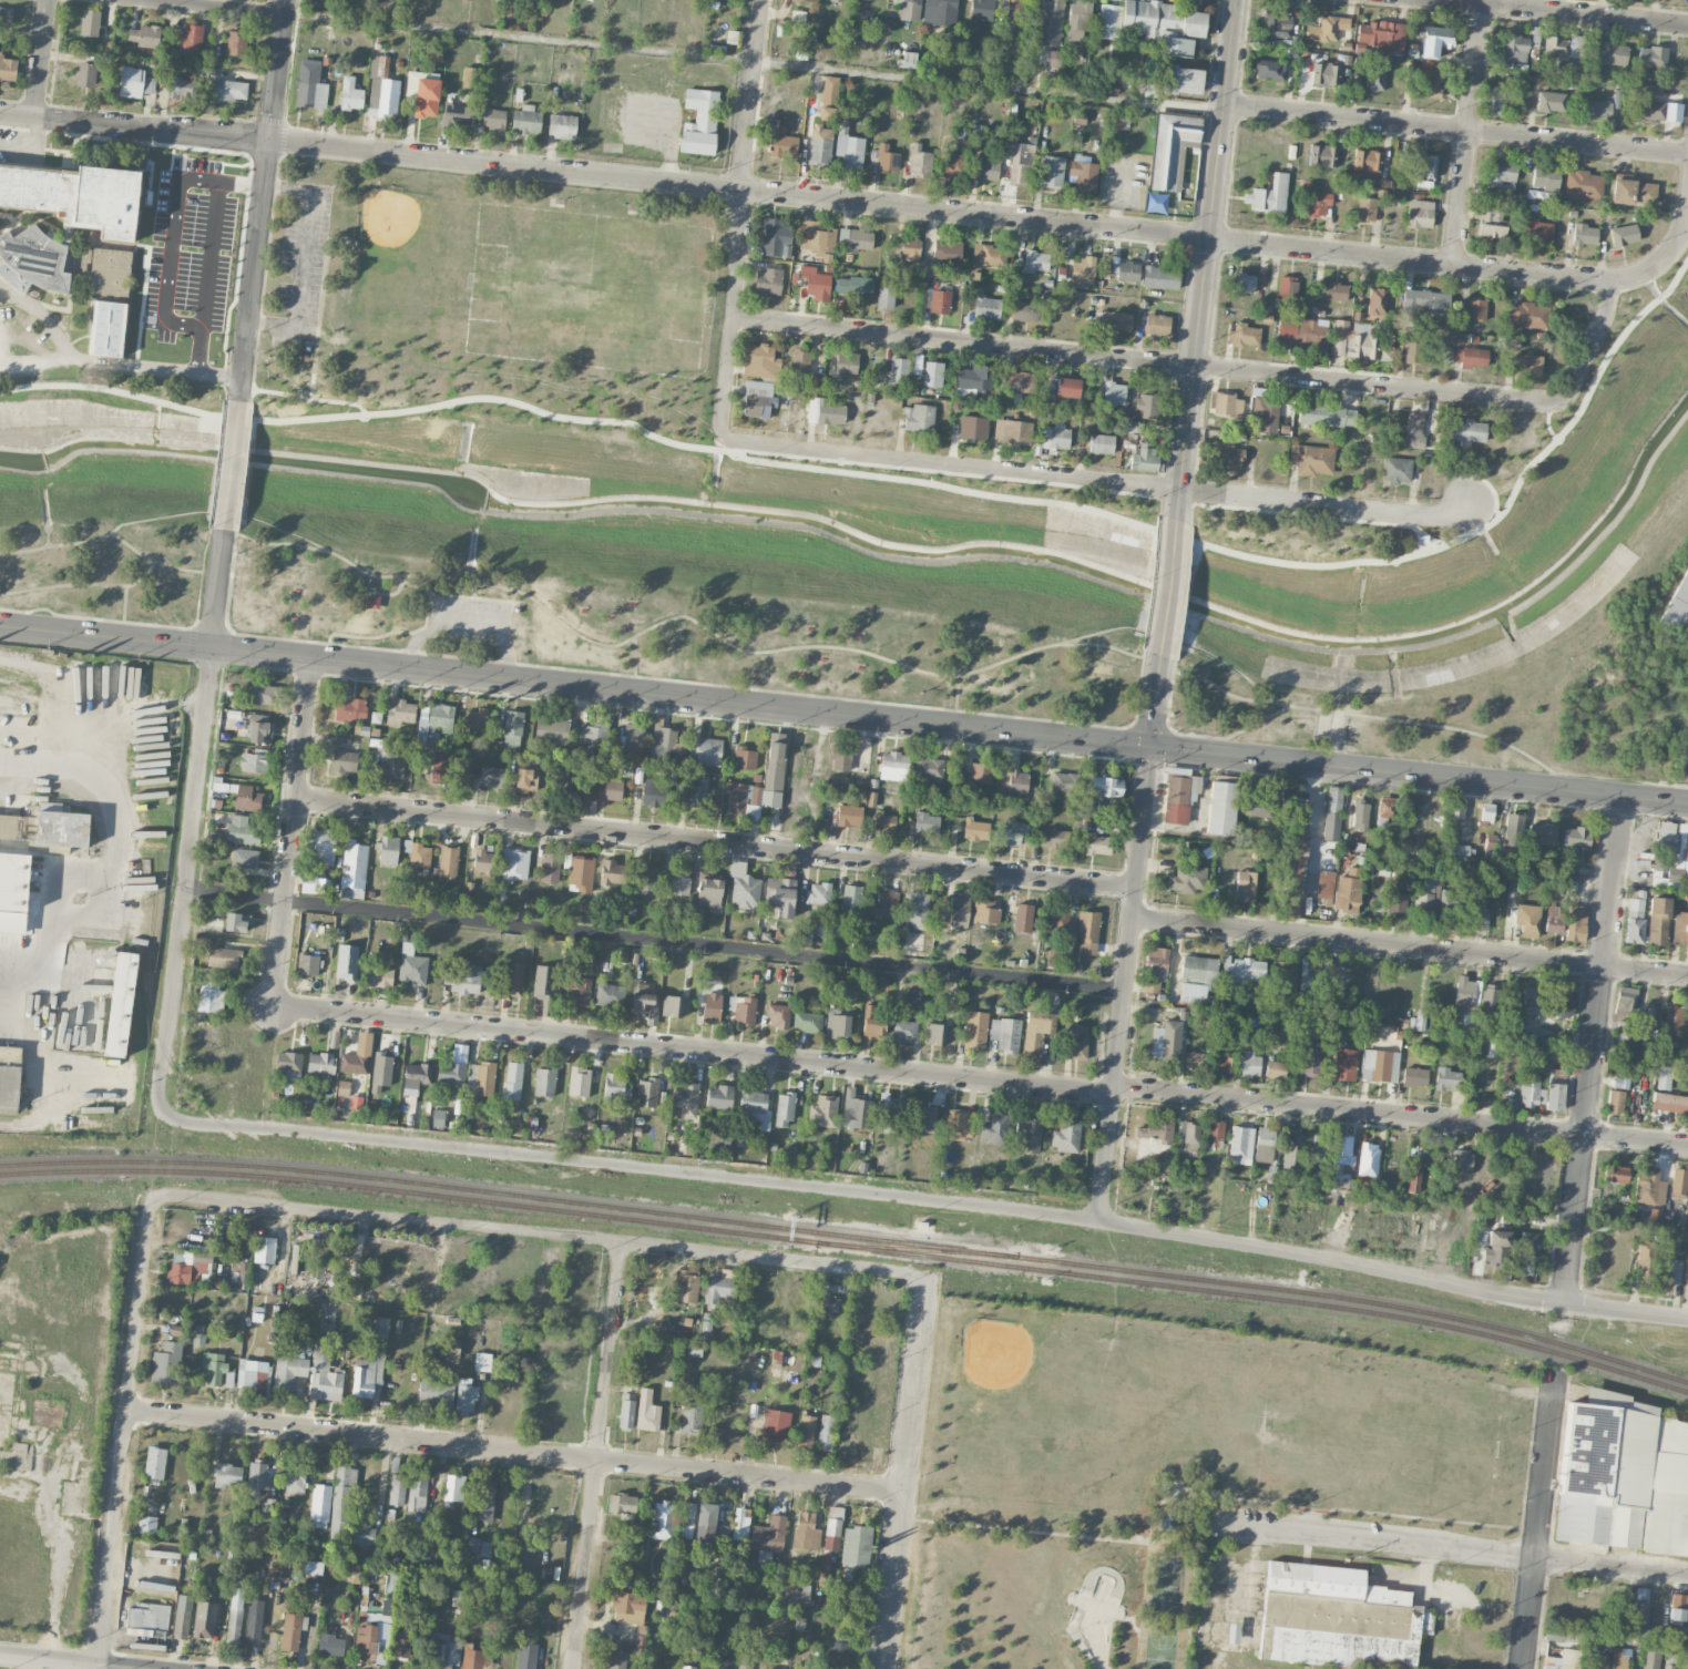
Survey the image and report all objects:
building: (808, 0)
building: (847, 0)
road: (208, 8)
building: (907, 9)
building: (981, 11)
building: (940, 12)
road: (1575, 12)
building: (6, 14)
building: (1077, 21)
building: (90, 22)
building: (1051, 22)
building: (1276, 22)
building: (1193, 23)
building: (1145, 24)
building: (1327, 29)
building: (193, 34)
building: (1381, 34)
building: (144, 35)
building: (1435, 41)
building: (236, 43)
building: (1564, 45)
building: (1514, 48)
building: (1609, 53)
building: (1653, 57)
building: (1053, 59)
road: (41, 60)
building: (909, 60)
building: (1568, 61)
road: (753, 62)
building: (8, 68)
building: (1269, 70)
building: (1324, 73)
building: (85, 74)
building: (470, 78)
building: (1375, 78)
building: (1181, 80)
building: (134, 82)
building: (1431, 83)
building: (310, 84)
building: (182, 86)
building: (226, 89)
building: (381, 89)
building: (1648, 89)
building: (350, 94)
road: (747, 95)
building: (427, 98)
building: (1617, 100)
building: (1491, 101)
building: (1552, 101)
building: (828, 102)
building: (1596, 109)
building: (1649, 109)
building: (457, 114)
building: (493, 119)
building: (525, 120)
building: (699, 122)
building: (562, 126)
road: (1454, 127)
road: (1467, 133)
building: (781, 144)
building: (820, 145)
road: (30, 147)
building: (849, 147)
building: (1172, 149)
building: (1322, 155)
building: (883, 160)
building: (919, 161)
building: (1367, 161)
building: (950, 165)
building: (1422, 165)
building: (1021, 167)
building: (988, 170)
building: (1052, 172)
building: (1501, 172)
building: (1084, 175)
building: (1546, 176)
building: (1583, 184)
building: (1633, 192)
building: (75, 195)
building: (1268, 195)
road: (804, 197)
road: (263, 202)
building: (1318, 203)
building: (1367, 209)
building: (1420, 214)
building: (1491, 223)
building: (1538, 231)
building: (1584, 234)
building: (1624, 235)
building: (776, 238)
building: (857, 239)
building: (816, 240)
building: (908, 248)
building: (948, 252)
road: (1666, 254)
building: (988, 256)
parking lot: (301, 258)
road: (301, 258)
building: (33, 260)
building: (1035, 260)
road: (1204, 260)
park: (427, 268)
building: (1083, 270)
building: (110, 272)
building: (1126, 272)
building: (1160, 277)
building: (768, 280)
building: (816, 283)
building: (1241, 284)
building: (855, 286)
park: (589, 288)
building: (1287, 288)
building: (1333, 290)
building: (886, 296)
park: (488, 301)
building: (940, 301)
building: (1377, 301)
building: (1424, 301)
building: (986, 307)
building: (1475, 309)
building: (1022, 310)
road: (732, 315)
building: (1527, 315)
building: (1113, 320)
building: (1157, 325)
building: (108, 328)
building: (1301, 332)
building: (1242, 335)
building: (1353, 340)
building: (1510, 344)
road: (315, 351)
building: (1412, 352)
building: (1385, 355)
building: (1470, 355)
road: (108, 359)
building: (760, 361)
building: (846, 364)
building: (800, 365)
building: (1526, 365)
road: (1210, 366)
building: (899, 368)
building: (932, 373)
building: (974, 378)
building: (1019, 381)
building: (1067, 387)
building: (1113, 392)
road: (304, 396)
building: (1019, 397)
building: (758, 399)
building: (1226, 405)
building: (1147, 406)
building: (825, 411)
building: (1265, 413)
building: (1327, 414)
building: (918, 419)
road: (1547, 422)
building: (973, 427)
building: (1134, 427)
building: (1413, 429)
building: (1011, 431)
building: (1469, 431)
building: (1055, 438)
building: (1102, 443)
building: (1225, 453)
building: (1146, 458)
building: (1311, 459)
road: (950, 464)
road: (232, 465)
building: (1397, 470)
road: (910, 482)
road: (1495, 495)
road: (1326, 504)
road: (1418, 533)
park: (888, 564)
road: (1167, 588)
building: (1679, 605)
road: (464, 620)
road: (106, 636)
building: (262, 694)
road: (193, 702)
road: (1154, 702)
building: (350, 709)
building: (399, 711)
building: (376, 717)
building: (474, 720)
road: (119, 721)
building: (433, 724)
road: (950, 726)
building: (259, 729)
building: (512, 729)
building: (552, 730)
building: (593, 733)
building: (633, 737)
building: (346, 743)
building: (662, 745)
traffic signals: (1149, 748)
building: (705, 750)
building: (775, 757)
building: (840, 757)
building: (745, 758)
building: (344, 760)
building: (255, 761)
building: (389, 764)
building: (893, 766)
building: (441, 767)
building: (929, 767)
building: (981, 772)
building: (492, 776)
building: (526, 779)
building: (564, 779)
building: (1017, 782)
building: (1064, 782)
building: (1106, 786)
building: (605, 789)
building: (653, 792)
building: (697, 792)
building: (246, 797)
building: (1176, 798)
building: (1334, 798)
building: (871, 799)
road: (194, 807)
building: (1258, 807)
building: (1385, 807)
building: (1221, 808)
building: (1455, 810)
building: (1486, 811)
building: (1359, 813)
building: (849, 816)
building: (884, 822)
building: (927, 822)
building: (7, 825)
building: (1300, 826)
building: (1331, 826)
building: (62, 828)
building: (976, 829)
building: (1513, 829)
building: (242, 830)
road: (289, 830)
building: (1014, 832)
building: (1542, 833)
building: (1576, 837)
building: (1055, 838)
building: (1490, 842)
building: (1098, 843)
road: (714, 844)
building: (324, 847)
building: (1674, 848)
building: (388, 850)
building: (1459, 853)
building: (419, 856)
building: (244, 858)
road: (108, 860)
building: (483, 860)
building: (448, 862)
building: (514, 864)
building: (550, 868)
building: (354, 869)
building: (612, 872)
building: (580, 873)
building: (1292, 878)
building: (646, 879)
building: (1187, 879)
building: (679, 881)
building: (1324, 884)
building: (323, 885)
building: (743, 885)
building: (1245, 885)
building: (1512, 887)
building: (13, 889)
building: (1348, 890)
building: (709, 893)
building: (818, 893)
building: (780, 895)
building: (851, 897)
building: (1424, 897)
building: (883, 902)
building: (1397, 902)
building: (1447, 907)
building: (914, 909)
building: (958, 910)
building: (985, 912)
building: (1477, 917)
building: (1023, 918)
building: (1527, 918)
building: (1553, 919)
building: (1634, 920)
building: (1057, 921)
building: (1658, 921)
building: (236, 922)
building: (1576, 923)
building: (1680, 928)
building: (1087, 933)
building: (206, 942)
road: (653, 942)
road: (1409, 944)
building: (222, 958)
building: (1052, 960)
building: (346, 962)
railway: (147, 963)
building: (307, 964)
building: (412, 965)
building: (1155, 967)
building: (1244, 970)
building: (1310, 971)
building: (379, 975)
building: (1341, 976)
building: (1286, 977)
building: (1197, 979)
building: (464, 980)
building: (512, 980)
building: (543, 983)
road: (1122, 984)
building: (576, 991)
building: (610, 995)
building: (642, 996)
building: (1488, 997)
building: (1625, 999)
building: (209, 1000)
building: (121, 1004)
building: (675, 1005)
building: (712, 1006)
building: (1465, 1006)
building: (743, 1010)
building: (1565, 1010)
building: (778, 1016)
building: (1674, 1016)
building: (1416, 1021)
building: (1687, 1021)
building: (807, 1022)
building: (872, 1023)
building: (838, 1025)
building: (1624, 1028)
building: (975, 1030)
building: (903, 1031)
building: (1036, 1031)
building: (1646, 1031)
building: (939, 1034)
building: (1005, 1034)
building: (1167, 1041)
building: (1076, 1042)
road: (1589, 1048)
building: (1492, 1049)
building: (1547, 1055)
building: (358, 1056)
building: (1196, 1061)
building: (1311, 1062)
building: (320, 1063)
building: (289, 1064)
building: (1226, 1064)
building: (1250, 1064)
building: (1344, 1064)
building: (1380, 1065)
building: (1275, 1068)
building: (381, 1072)
building: (451, 1073)
building: (9, 1076)
building: (1414, 1076)
building: (417, 1077)
building: (480, 1077)
building: (1446, 1078)
building: (1664, 1078)
road: (980, 1079)
building: (512, 1081)
building: (579, 1081)
building: (544, 1082)
building: (342, 1087)
building: (615, 1087)
building: (646, 1092)
building: (1532, 1092)
building: (1555, 1096)
building: (719, 1097)
building: (686, 1098)
building: (1615, 1102)
building: (1669, 1103)
building: (754, 1107)
building: (96, 1108)
building: (785, 1109)
building: (855, 1109)
building: (925, 1110)
building: (823, 1112)
building: (889, 1114)
building: (438, 1117)
railway: (69, 1122)
building: (958, 1125)
railway: (51, 1128)
building: (994, 1129)
building: (1156, 1130)
building: (1215, 1134)
building: (1027, 1135)
building: (1189, 1135)
building: (1065, 1136)
building: (1240, 1144)
building: (1265, 1144)
building: (1319, 1148)
building: (1293, 1150)
building: (1368, 1158)
building: (1342, 1160)
building: (1459, 1164)
building: (1616, 1174)
building: (1413, 1181)
building: (1678, 1182)
building: (1649, 1188)
road: (912, 1199)
road: (543, 1235)
railway: (849, 1236)
building: (1687, 1236)
railway: (849, 1246)
building: (1496, 1246)
building: (264, 1249)
building: (1527, 1252)
building: (1646, 1257)
building: (188, 1266)
building: (1670, 1271)
building: (1687, 1279)
building: (686, 1288)
building: (719, 1288)
building: (825, 1304)
building: (706, 1330)
building: (175, 1332)
building: (198, 1334)
building: (453, 1348)
building: (434, 1353)
building: (482, 1361)
building: (371, 1362)
building: (166, 1363)
building: (213, 1366)
building: (288, 1371)
building: (325, 1371)
building: (254, 1376)
building: (228, 1379)
building: (434, 1392)
building: (466, 1396)
building: (647, 1411)
building: (626, 1413)
building: (692, 1416)
building: (776, 1425)
building: (806, 1430)
road: (124, 1432)
building: (826, 1432)
road: (512, 1452)
road: (595, 1456)
building: (155, 1462)
road: (901, 1472)
park: (1167, 1473)
building: (226, 1475)
building: (260, 1476)
building: (1623, 1477)
building: (295, 1478)
building: (454, 1487)
building: (397, 1489)
building: (417, 1492)
building: (487, 1499)
building: (341, 1501)
building: (320, 1504)
building: (621, 1504)
road: (1536, 1517)
building: (662, 1519)
building: (686, 1519)
building: (706, 1522)
building: (146, 1524)
building: (740, 1524)
building: (832, 1528)
building: (806, 1530)
building: (361, 1535)
building: (768, 1537)
building: (479, 1546)
building: (856, 1547)
road: (1450, 1549)
building: (488, 1566)
building: (310, 1567)
building: (825, 1568)
building: (716, 1584)
building: (799, 1596)
building: (628, 1607)
building: (1678, 1607)
building: (1638, 1608)
building: (235, 1611)
building: (1338, 1618)
building: (146, 1619)
building: (204, 1619)
building: (181, 1624)
building: (290, 1631)
building: (253, 1635)
building: (1558, 1635)
building: (370, 1636)
building: (640, 1639)
building: (403, 1641)
building: (330, 1645)
building: (444, 1650)
building: (838, 1651)
building: (526, 1656)
building: (474, 1657)
building: (1671, 1657)
building: (615, 1659)
building: (1618, 1659)
building: (1650, 1659)
road: (74, 1660)
building: (1562, 1660)
building: (1600, 1661)
building: (743, 1663)
building: (1687, 1663)
building: (687, 1667)
building: (1668, 1667)
building: (716, 1668)

